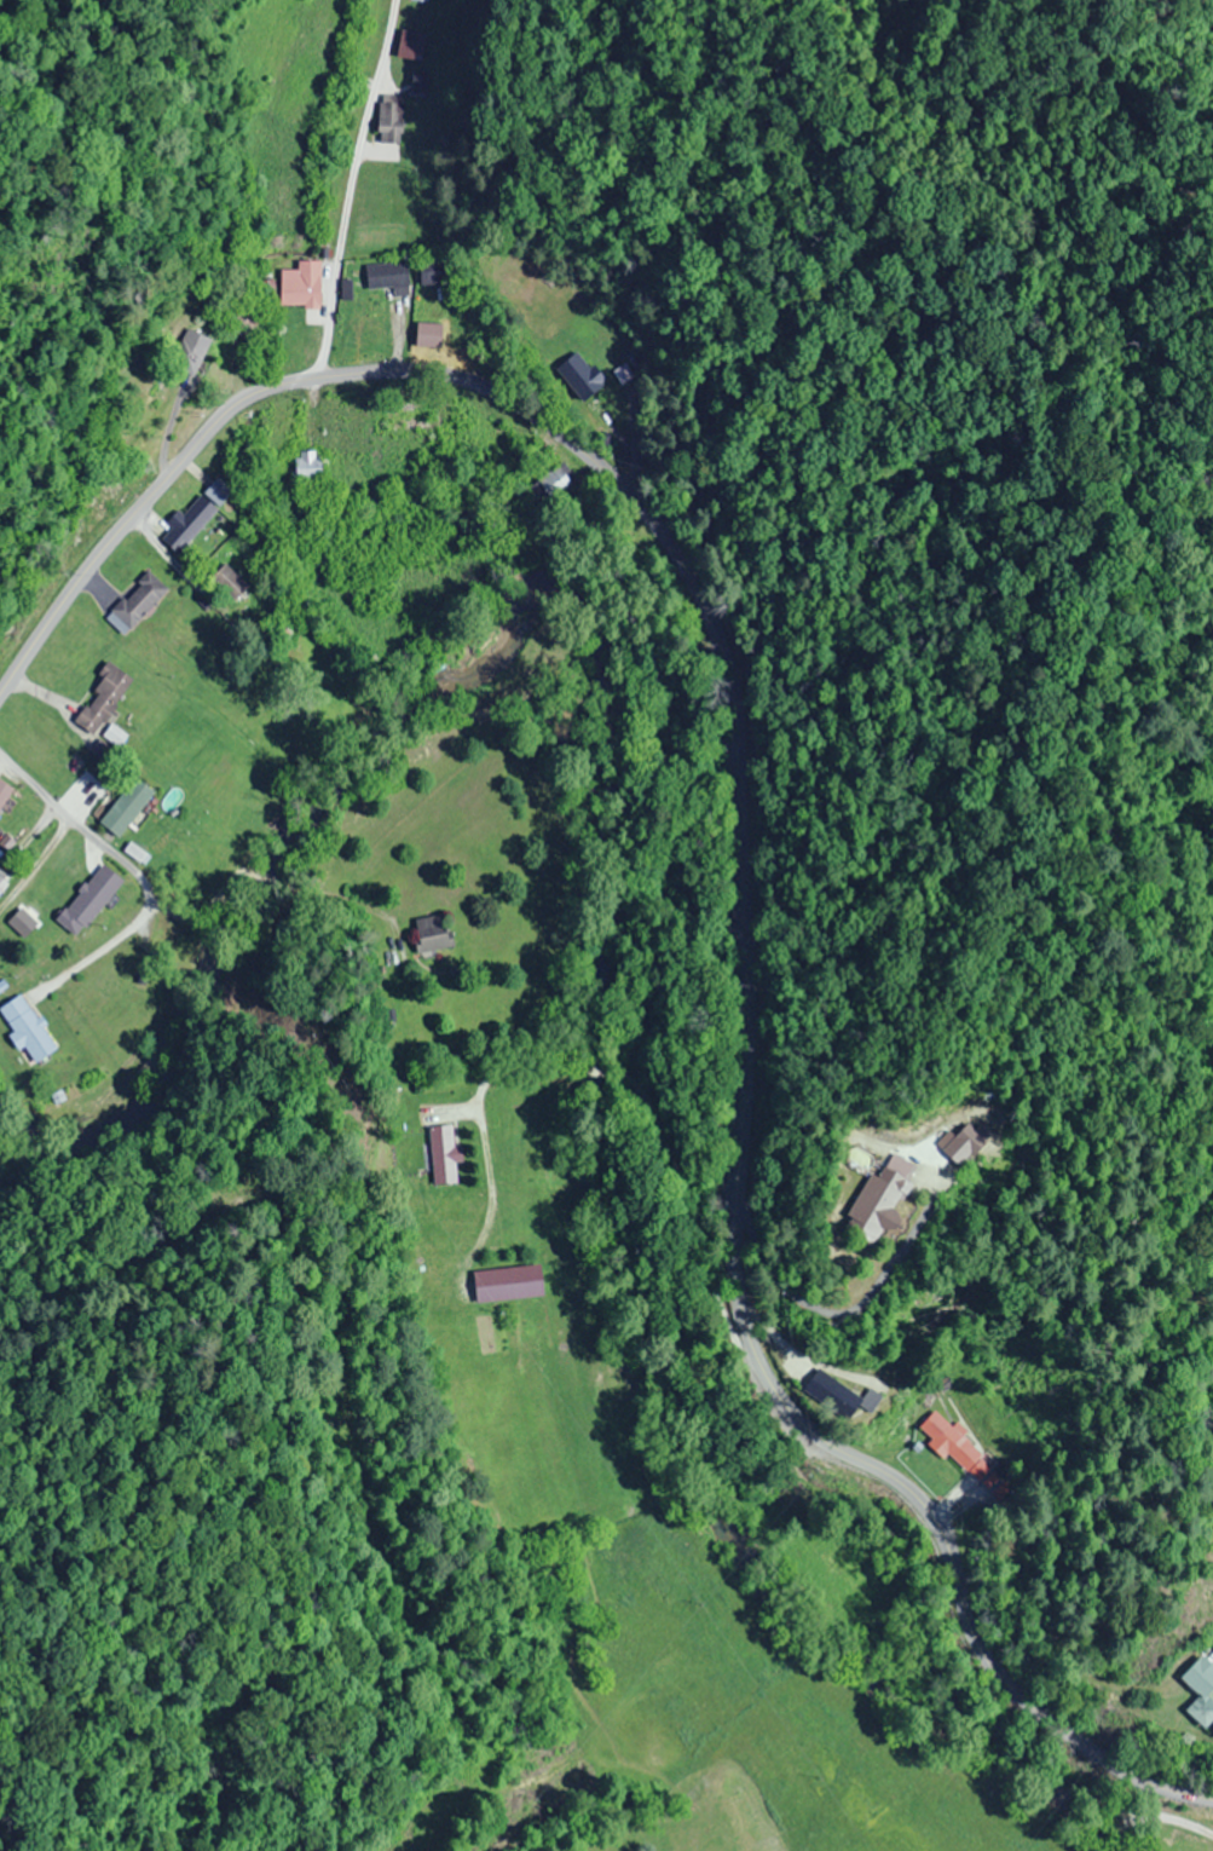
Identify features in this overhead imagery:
building: (422, 0)
building: (411, 45)
building: (418, 82)
building: (389, 119)
road: (351, 189)
building: (433, 271)
building: (387, 276)
building: (299, 284)
building: (427, 334)
building: (187, 352)
building: (577, 375)
building: (305, 465)
building: (555, 480)
building: (196, 515)
building: (226, 582)
building: (137, 600)
building: (102, 699)
building: (4, 792)
building: (125, 807)
road: (82, 825)
road: (730, 850)
building: (86, 900)
building: (431, 932)
building: (99, 990)
building: (25, 1027)
building: (959, 1143)
building: (441, 1154)
building: (868, 1200)
building: (506, 1282)
building: (834, 1394)
building: (953, 1446)
road: (1179, 1528)
building: (1196, 1691)

